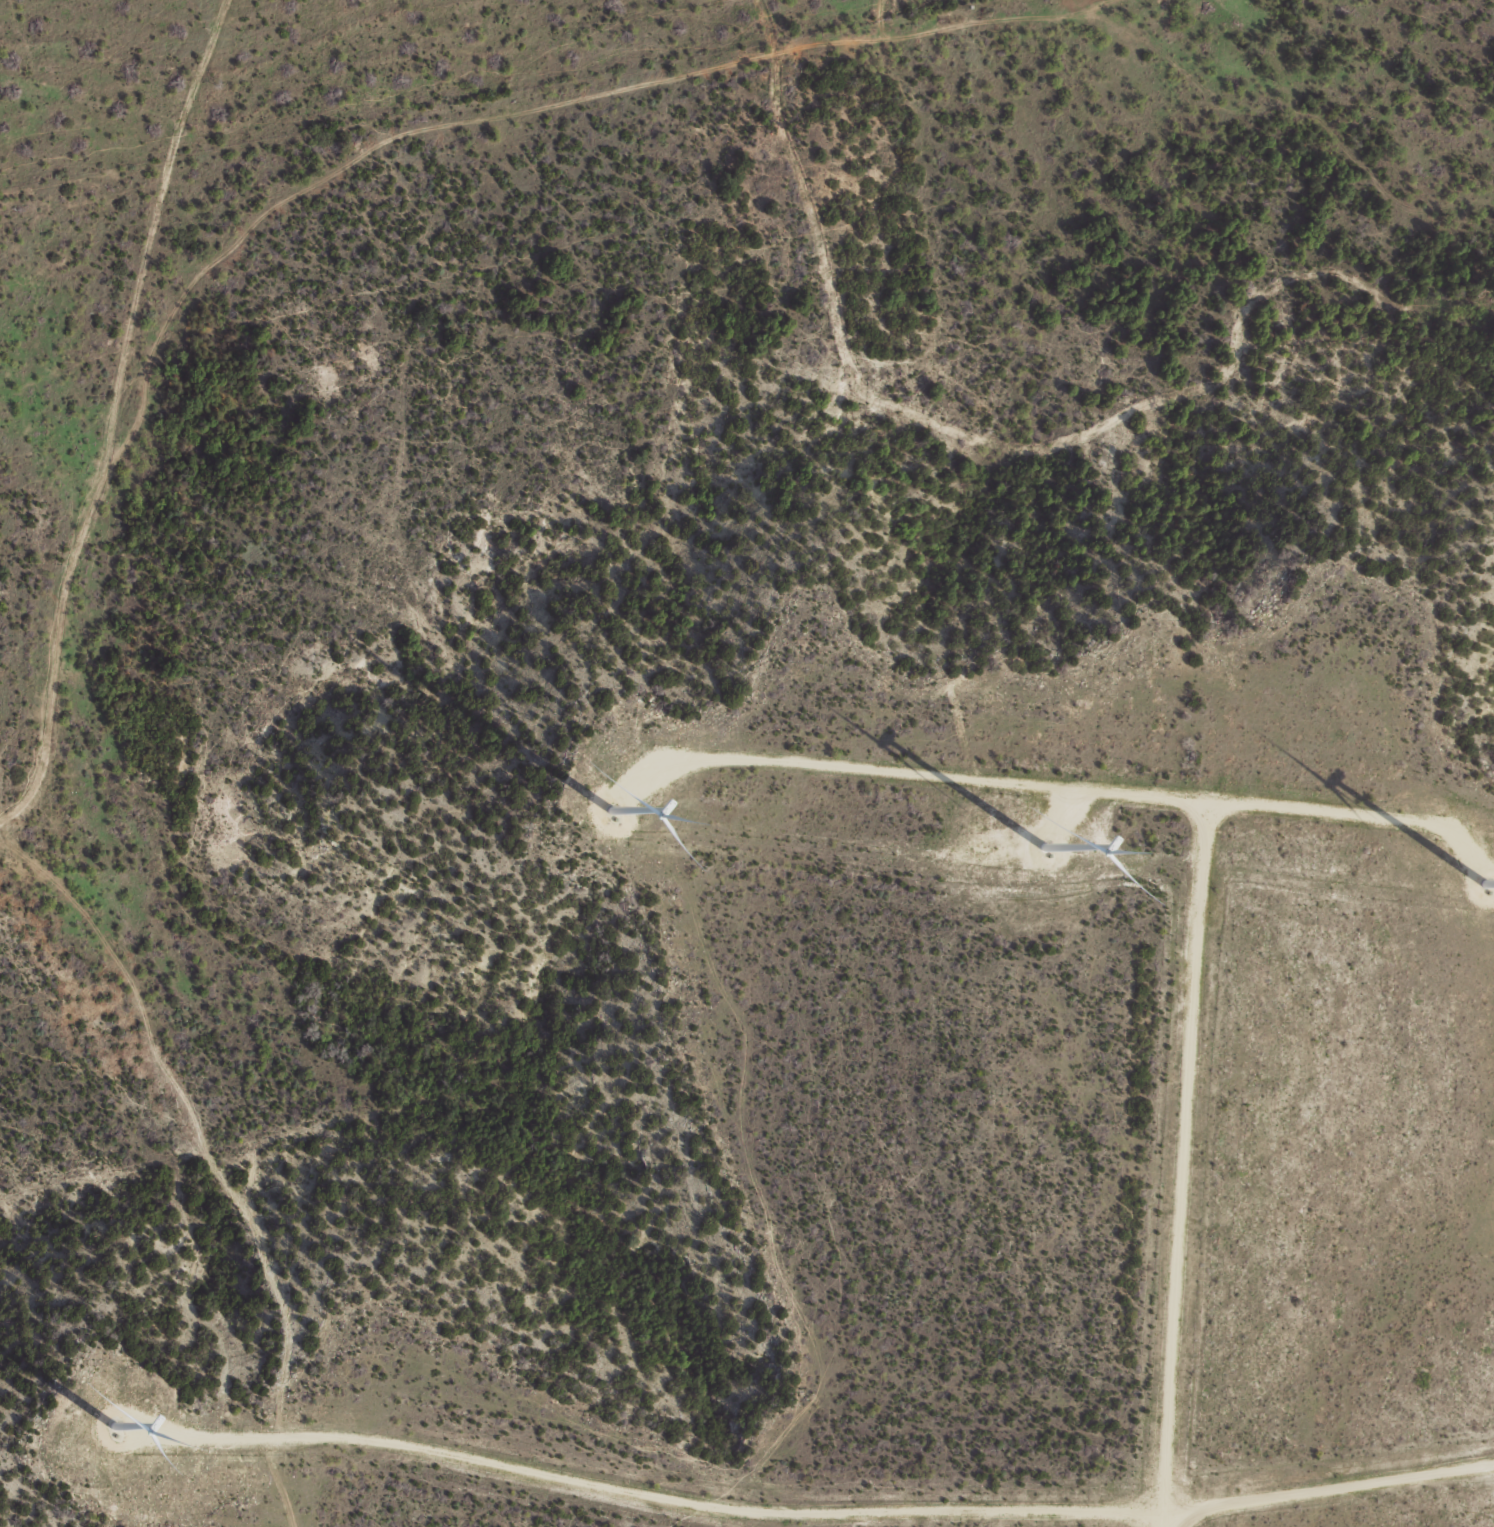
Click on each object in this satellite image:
wind turbine: (622, 810)
wind turbine: (1044, 832)
wind turbine: (1473, 883)
road: (225, 1176)
wind turbine: (118, 1448)

